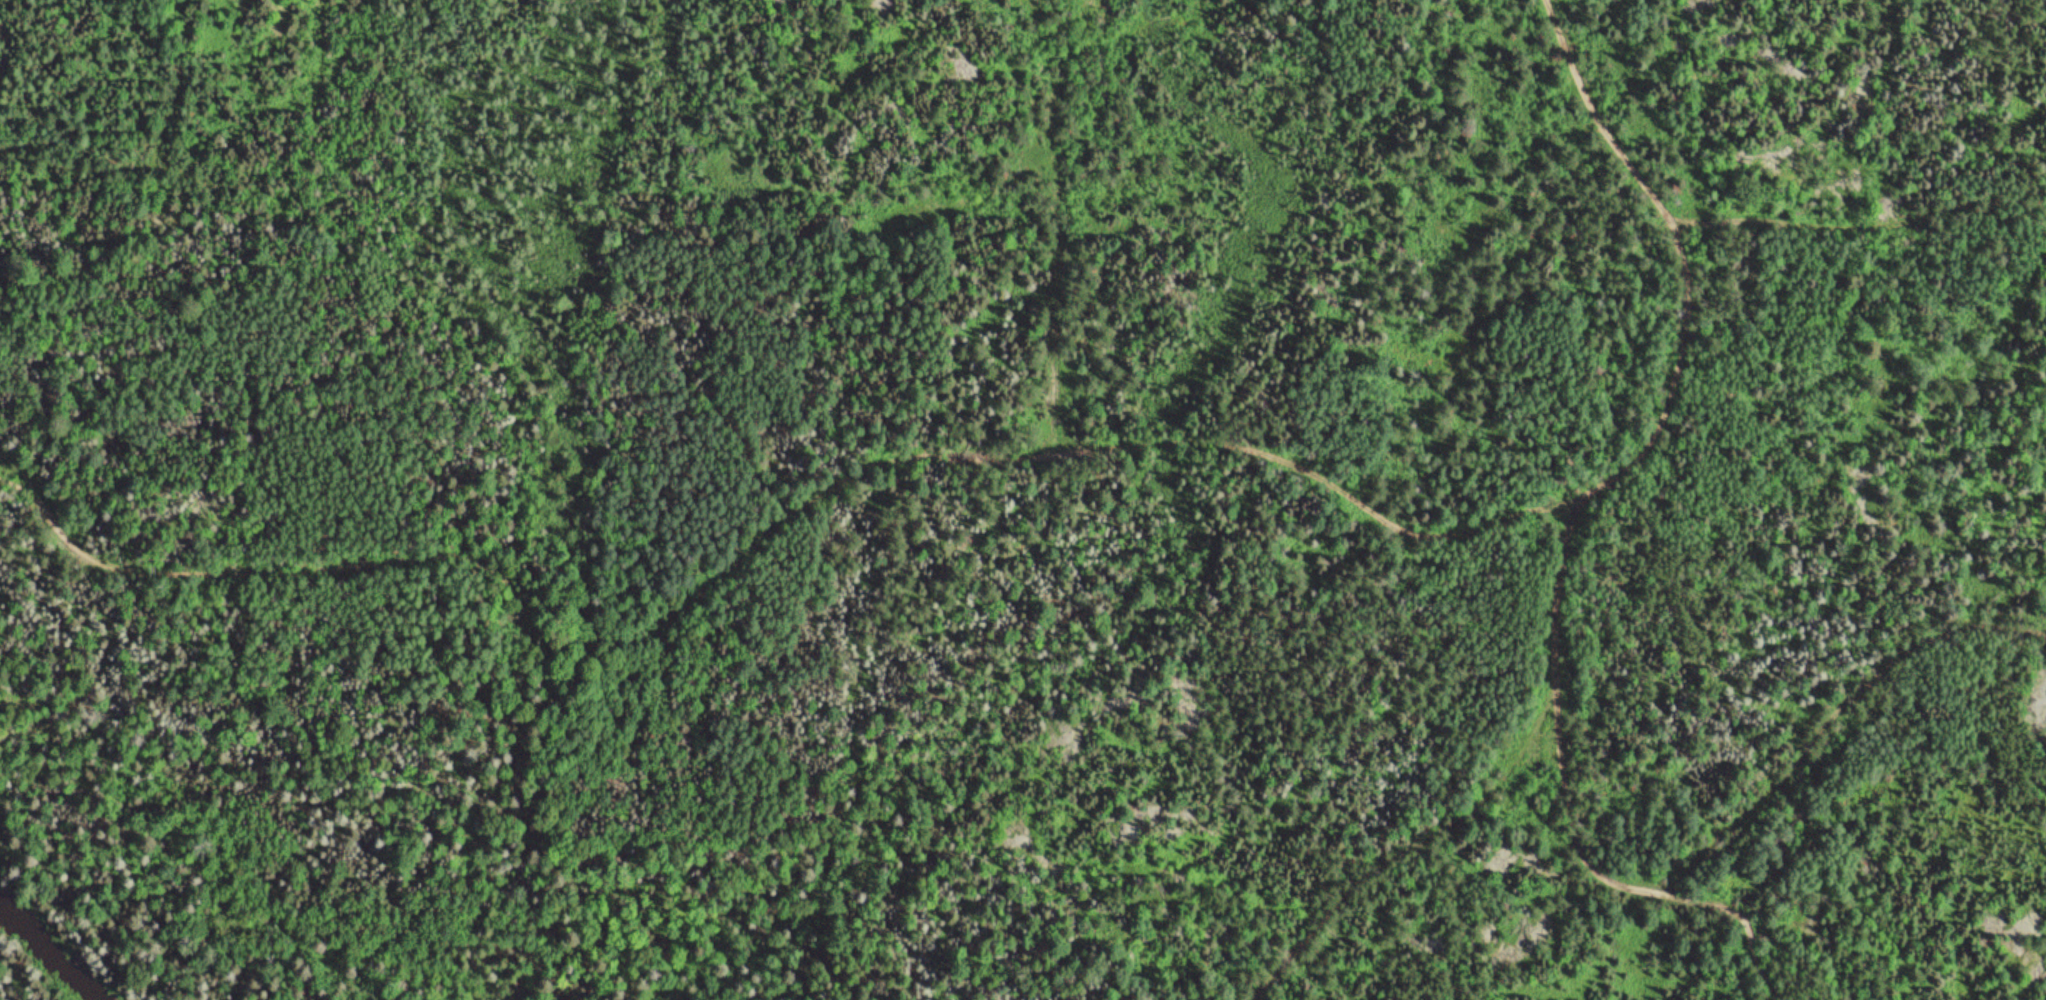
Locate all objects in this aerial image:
road: (1846, 229)
road: (819, 485)
road: (1589, 525)
river: (57, 950)

